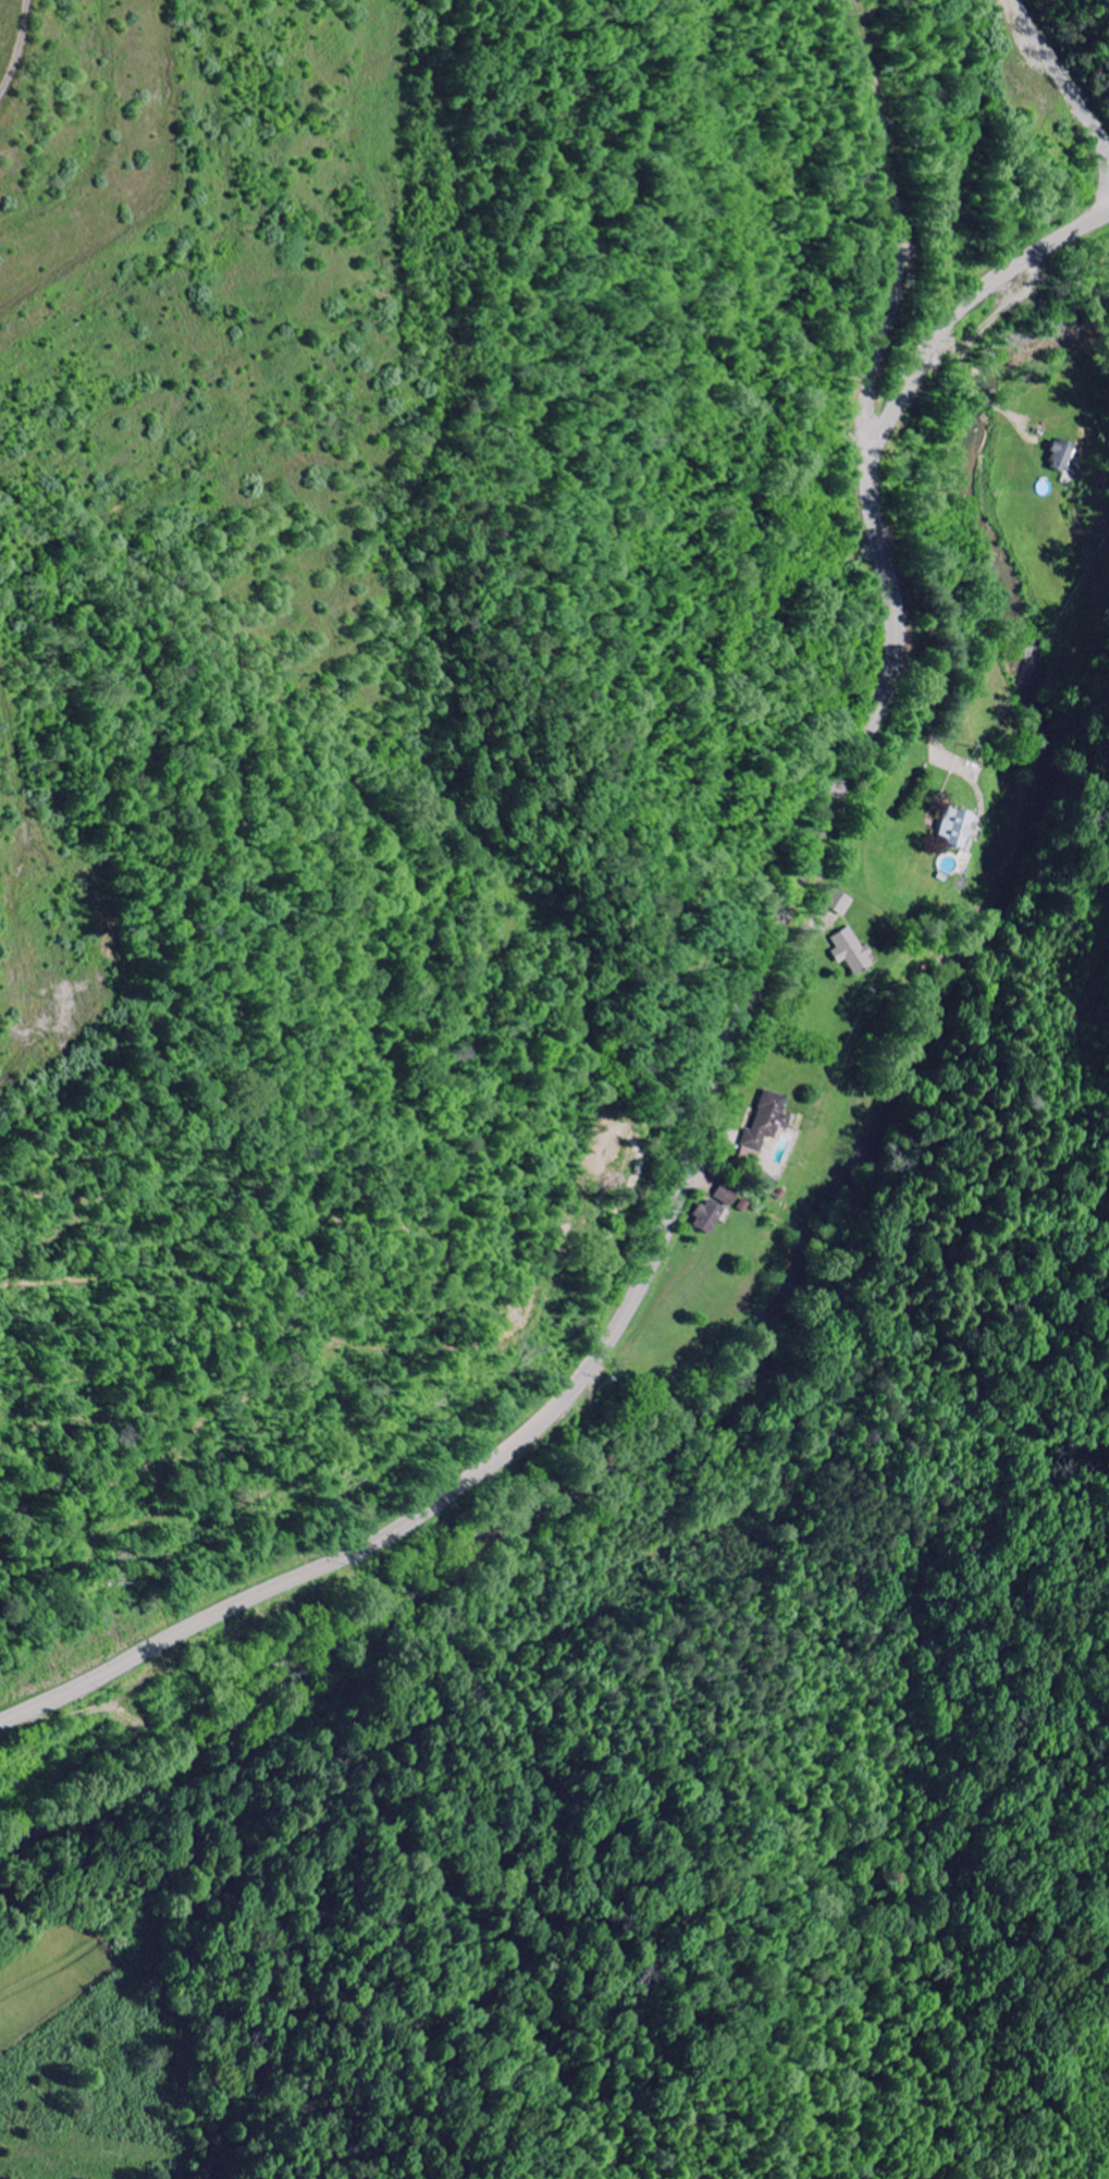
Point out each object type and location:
quarry: (183, 452)
building: (1063, 457)
building: (951, 829)
building: (836, 903)
building: (849, 951)
road: (718, 1082)
building: (768, 1122)
building: (711, 1216)

